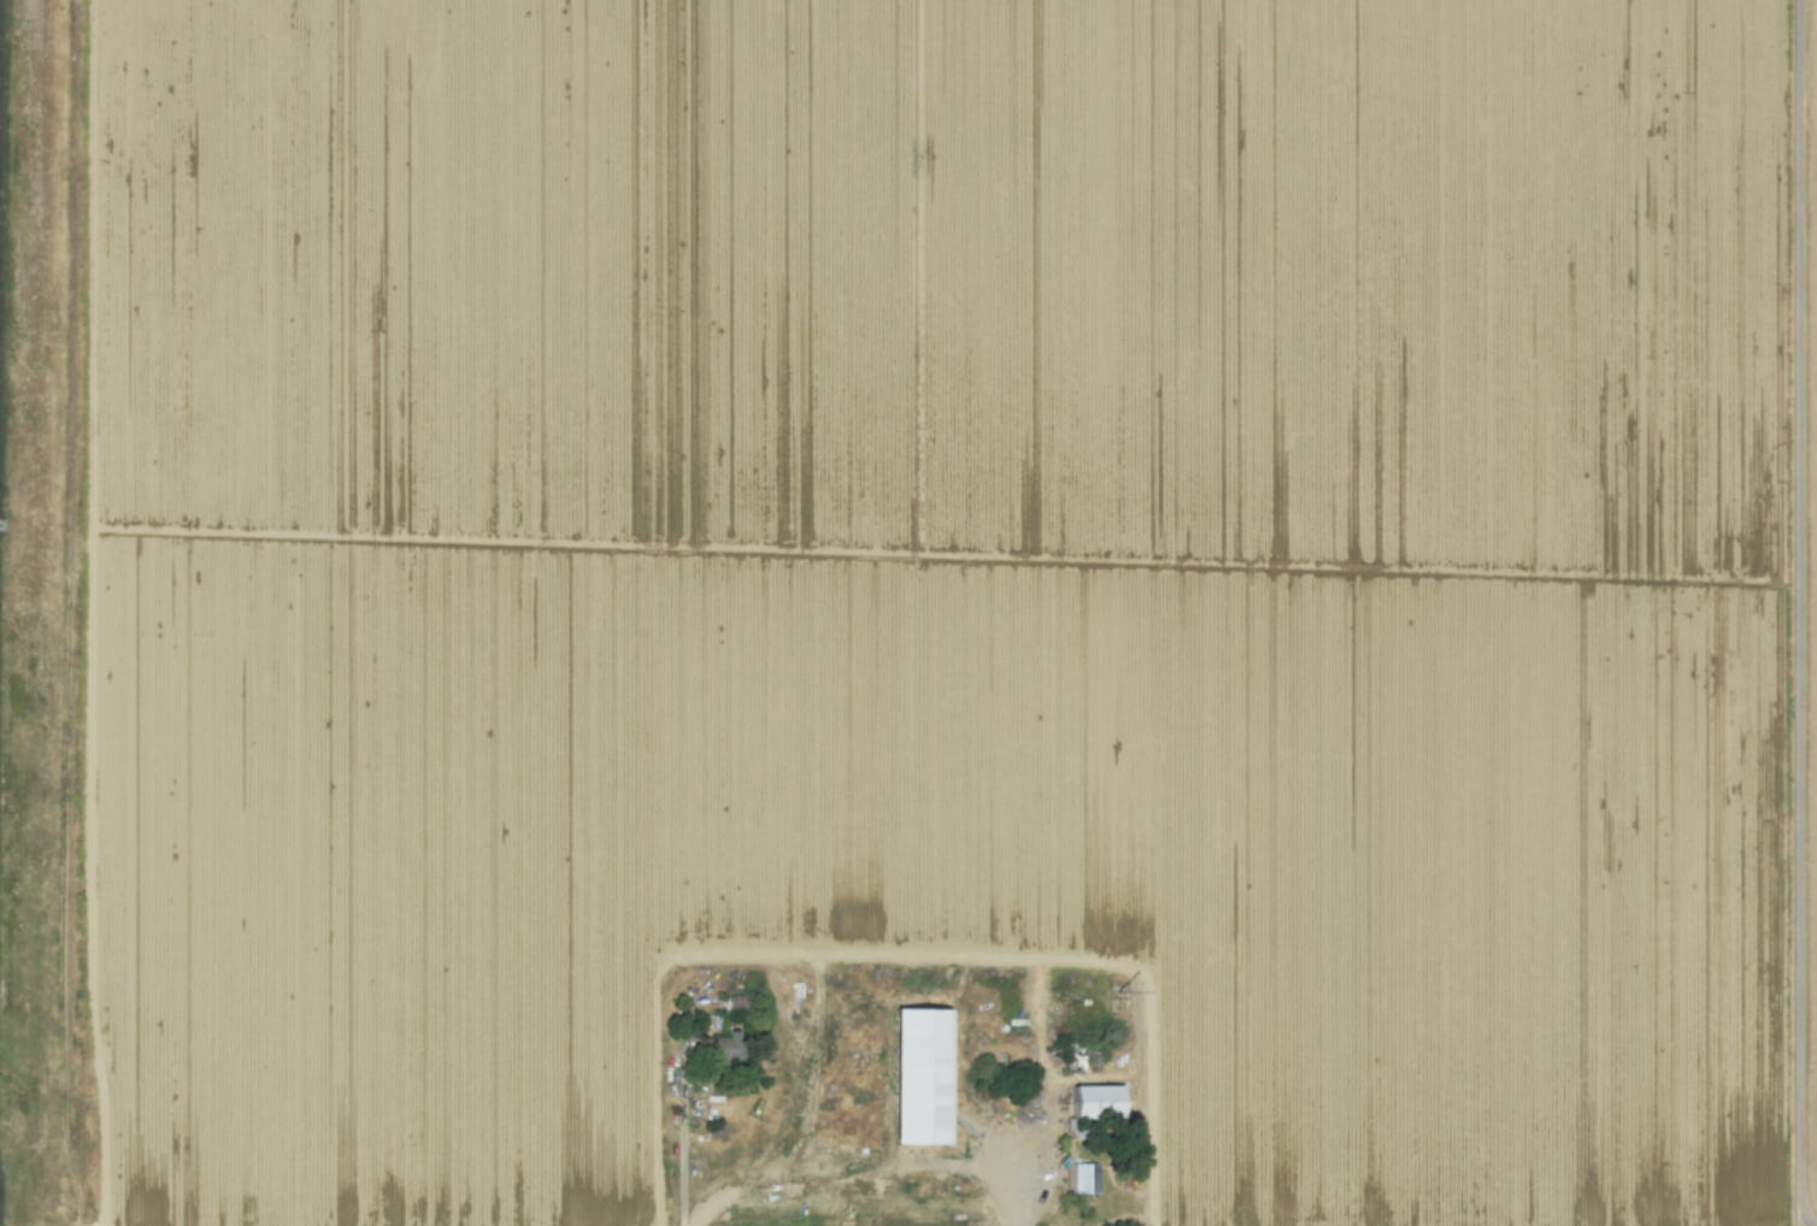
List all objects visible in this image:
building: (724, 1048)
building: (917, 1075)
building: (1093, 1100)
road: (683, 1142)
building: (1078, 1178)

